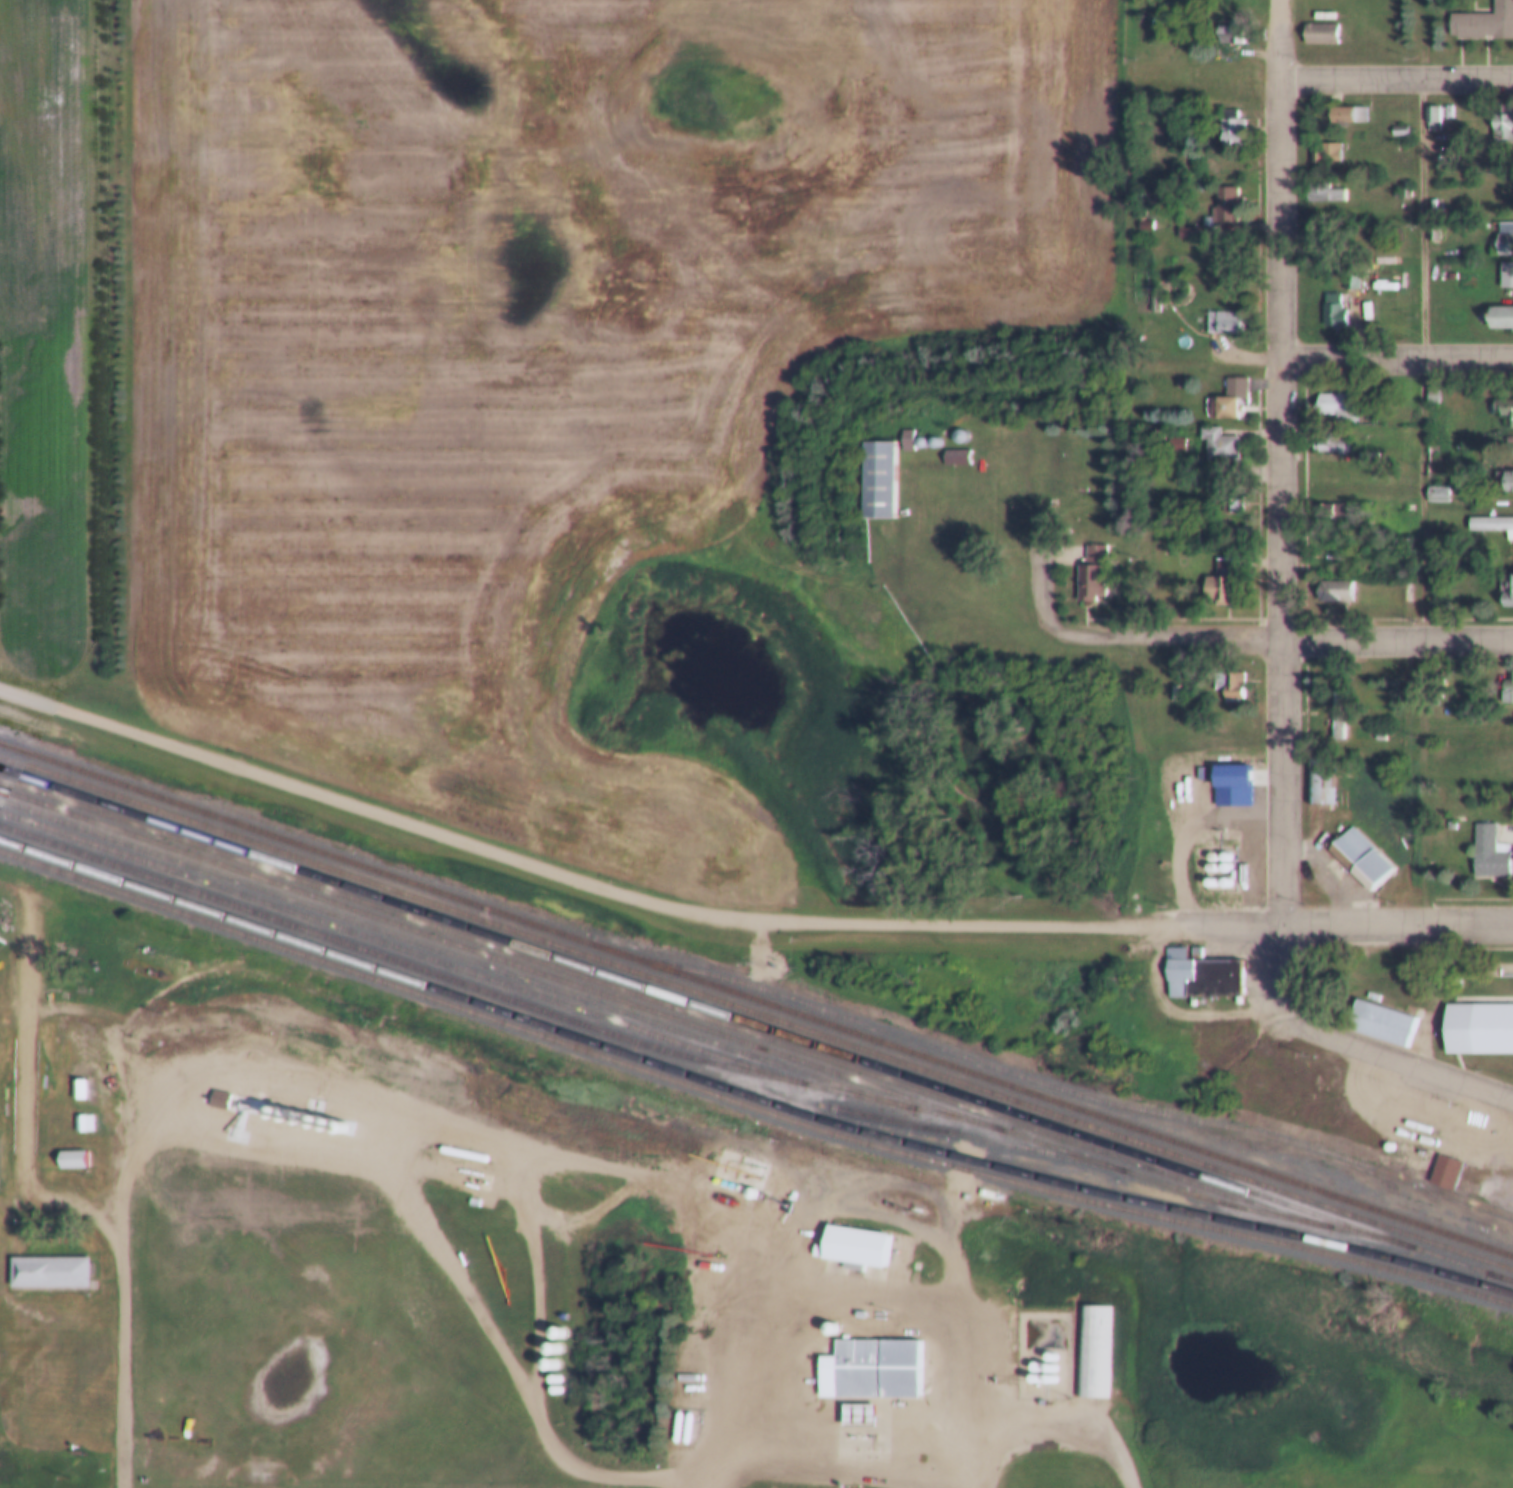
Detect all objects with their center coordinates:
building: (1479, 13)
building: (1228, 21)
building: (1316, 22)
building: (1231, 33)
building: (1321, 34)
road: (1276, 40)
road: (1394, 76)
building: (1344, 104)
building: (1432, 108)
building: (1500, 112)
building: (1347, 115)
building: (1226, 116)
building: (1395, 118)
building: (1232, 130)
building: (1503, 130)
building: (1322, 142)
building: (1327, 154)
building: (1401, 179)
building: (1319, 181)
building: (1324, 194)
building: (1429, 194)
building: (1220, 195)
building: (1140, 213)
building: (1191, 218)
building: (1503, 228)
building: (1504, 264)
building: (1447, 265)
building: (1350, 281)
building: (1150, 292)
building: (1328, 301)
building: (1499, 307)
building: (1222, 311)
building: (1335, 313)
building: (1501, 318)
building: (1225, 323)
road: (1242, 358)
road: (1396, 358)
road: (1424, 358)
building: (1174, 371)
building: (1223, 388)
building: (1428, 388)
building: (1331, 397)
building: (1502, 399)
building: (1223, 408)
building: (1504, 415)
building: (954, 425)
silo: (954, 425)
building: (902, 428)
building: (915, 431)
silo: (915, 431)
building: (928, 431)
silo: (928, 431)
building: (1325, 432)
building: (1173, 433)
building: (1213, 433)
building: (1330, 445)
building: (952, 446)
building: (956, 459)
building: (874, 469)
building: (1501, 470)
building: (1433, 482)
building: (1507, 484)
storage tank: (1494, 491)
road: (1280, 501)
building: (1325, 502)
building: (1231, 507)
building: (1330, 512)
building: (1490, 514)
building: (1492, 527)
building: (1323, 549)
building: (1218, 552)
building: (1086, 563)
building: (1214, 578)
building: (1505, 579)
building: (1329, 580)
building: (1334, 591)
road: (1119, 633)
road: (1397, 641)
building: (1228, 675)
building: (1505, 677)
building: (1171, 681)
building: (1507, 693)
building: (1333, 703)
building: (1338, 715)
building: (1375, 725)
building: (1315, 771)
building: (1227, 774)
building: (1445, 814)
storage tank: (1397, 831)
building: (1484, 841)
storage tank: (1207, 844)
storage tank: (1220, 844)
building: (1356, 847)
storage tank: (1206, 855)
storage tank: (1220, 855)
building: (1229, 864)
storage tank: (1206, 870)
storage tank: (1220, 870)
road: (579, 879)
road: (1349, 923)
railway: (345, 944)
railway: (400, 949)
railway: (454, 956)
railway: (498, 961)
building: (1196, 963)
railway: (756, 1002)
railway: (664, 1005)
railway: (705, 1008)
railway: (745, 1011)
building: (1377, 1012)
building: (1477, 1017)
road: (1359, 1043)
railway: (751, 1072)
railway: (1061, 1091)
building: (79, 1112)
storage tank: (1413, 1115)
road: (423, 1126)
storage tank: (1382, 1136)
storage tank: (459, 1142)
building: (68, 1149)
building: (462, 1156)
building: (1439, 1160)
building: (733, 1164)
building: (1446, 1175)
road: (56, 1191)
building: (470, 1191)
building: (850, 1234)
building: (46, 1261)
road: (952, 1268)
storage tank: (826, 1320)
building: (1089, 1339)
storage tank: (1034, 1341)
storage tank: (1047, 1341)
storage tank: (1033, 1354)
storage tank: (1047, 1354)
building: (866, 1358)
storage tank: (1033, 1366)
storage tank: (1047, 1367)
building: (1037, 1391)
building: (854, 1404)
road: (829, 1467)
road: (710, 1485)

